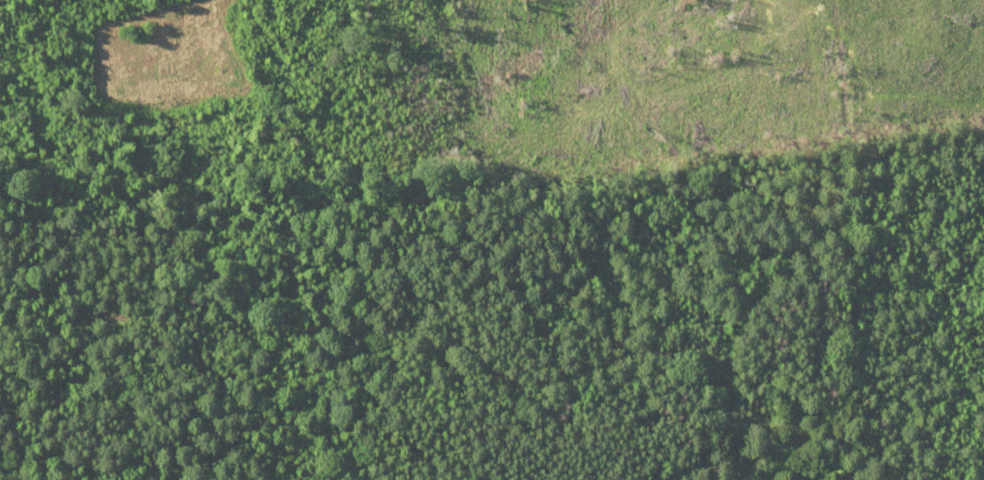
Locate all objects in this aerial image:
road: (689, 240)

